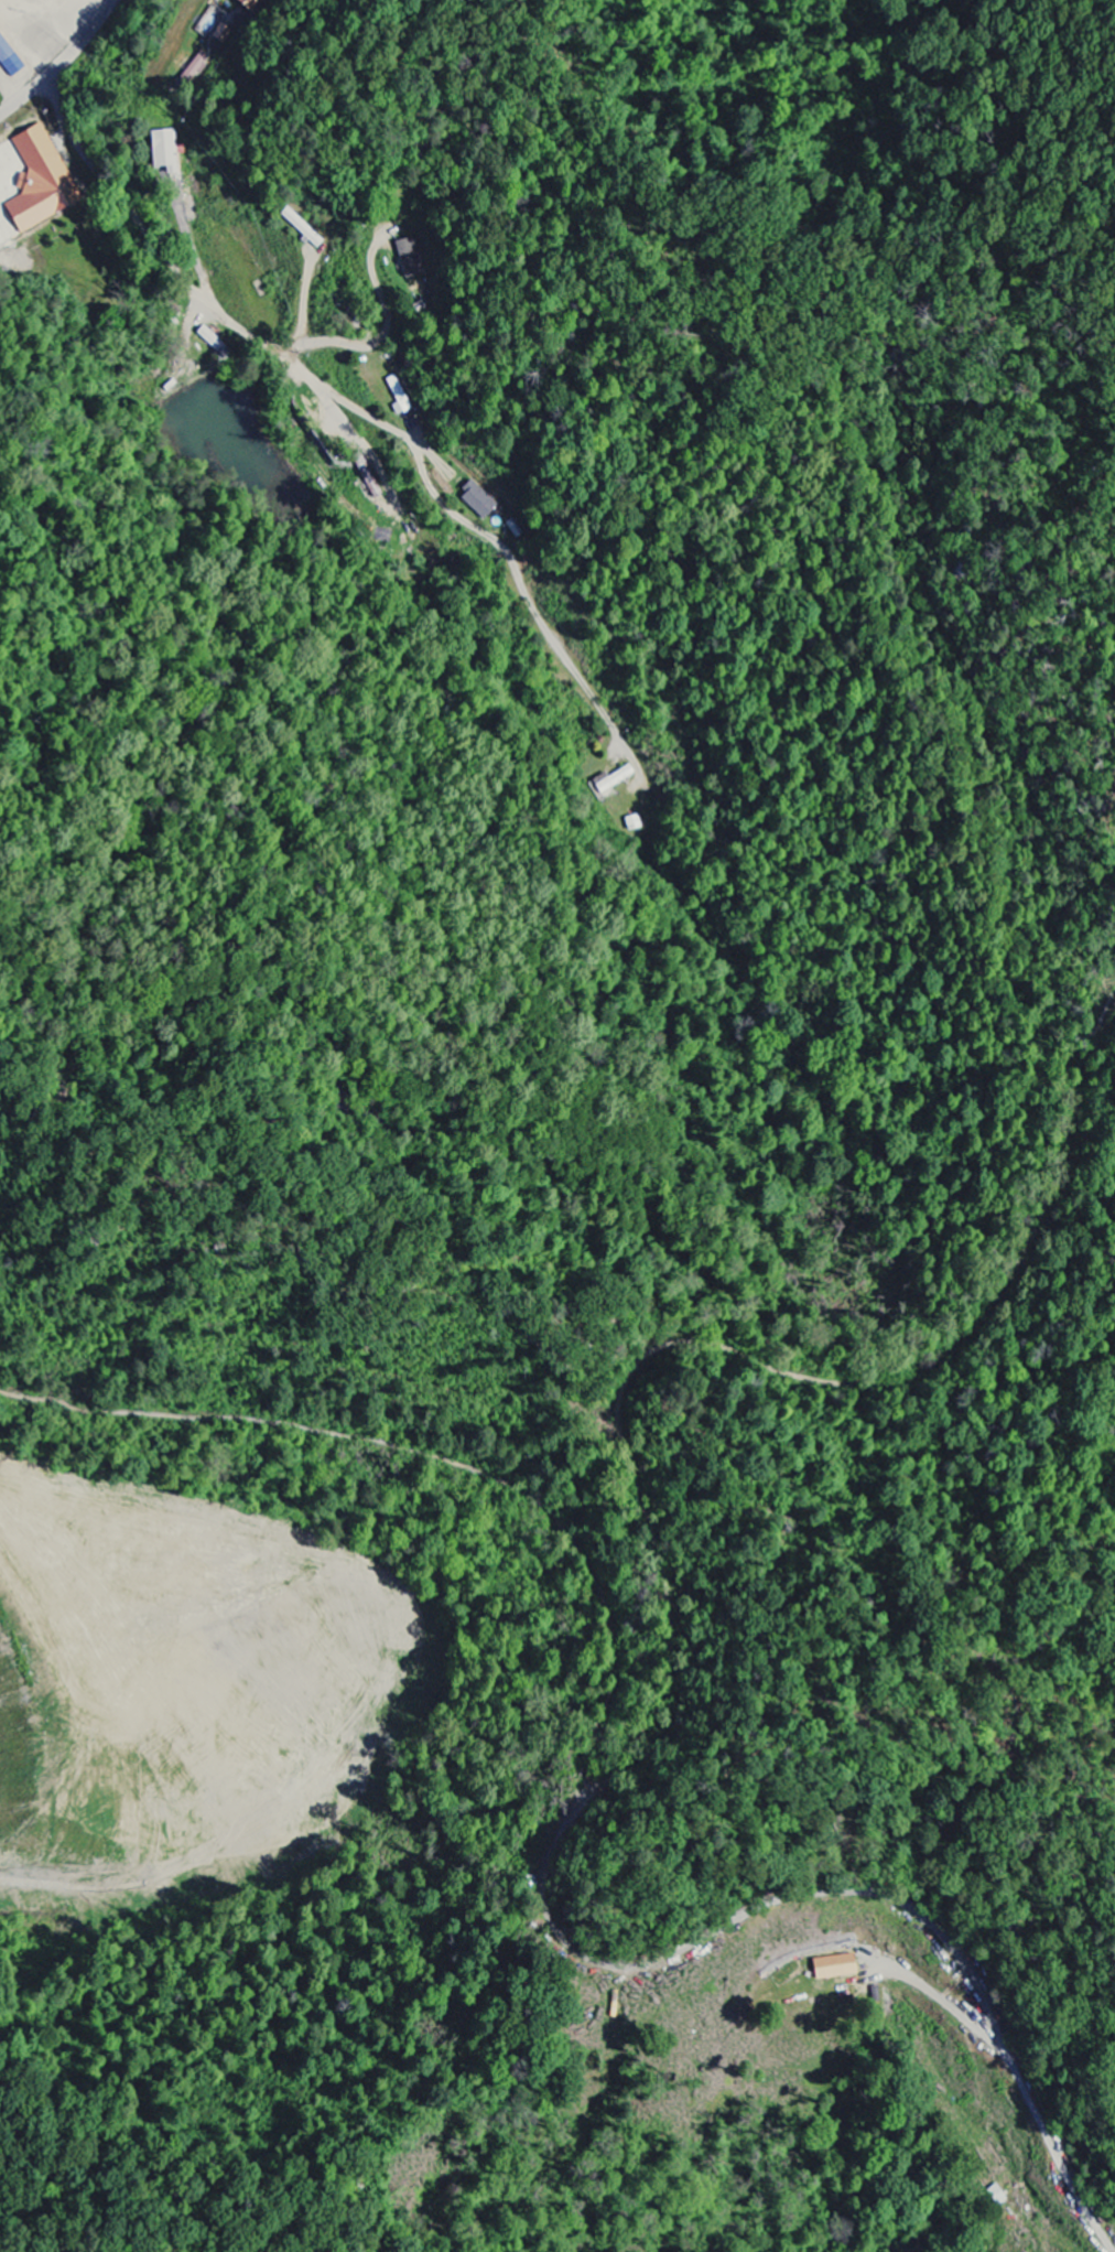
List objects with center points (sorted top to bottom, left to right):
building: (250, 4)
building: (223, 34)
road: (83, 39)
building: (196, 66)
road: (24, 96)
building: (162, 150)
road: (161, 252)
building: (410, 259)
building: (399, 397)
building: (477, 500)
building: (611, 780)
building: (834, 1968)
building: (995, 2196)

